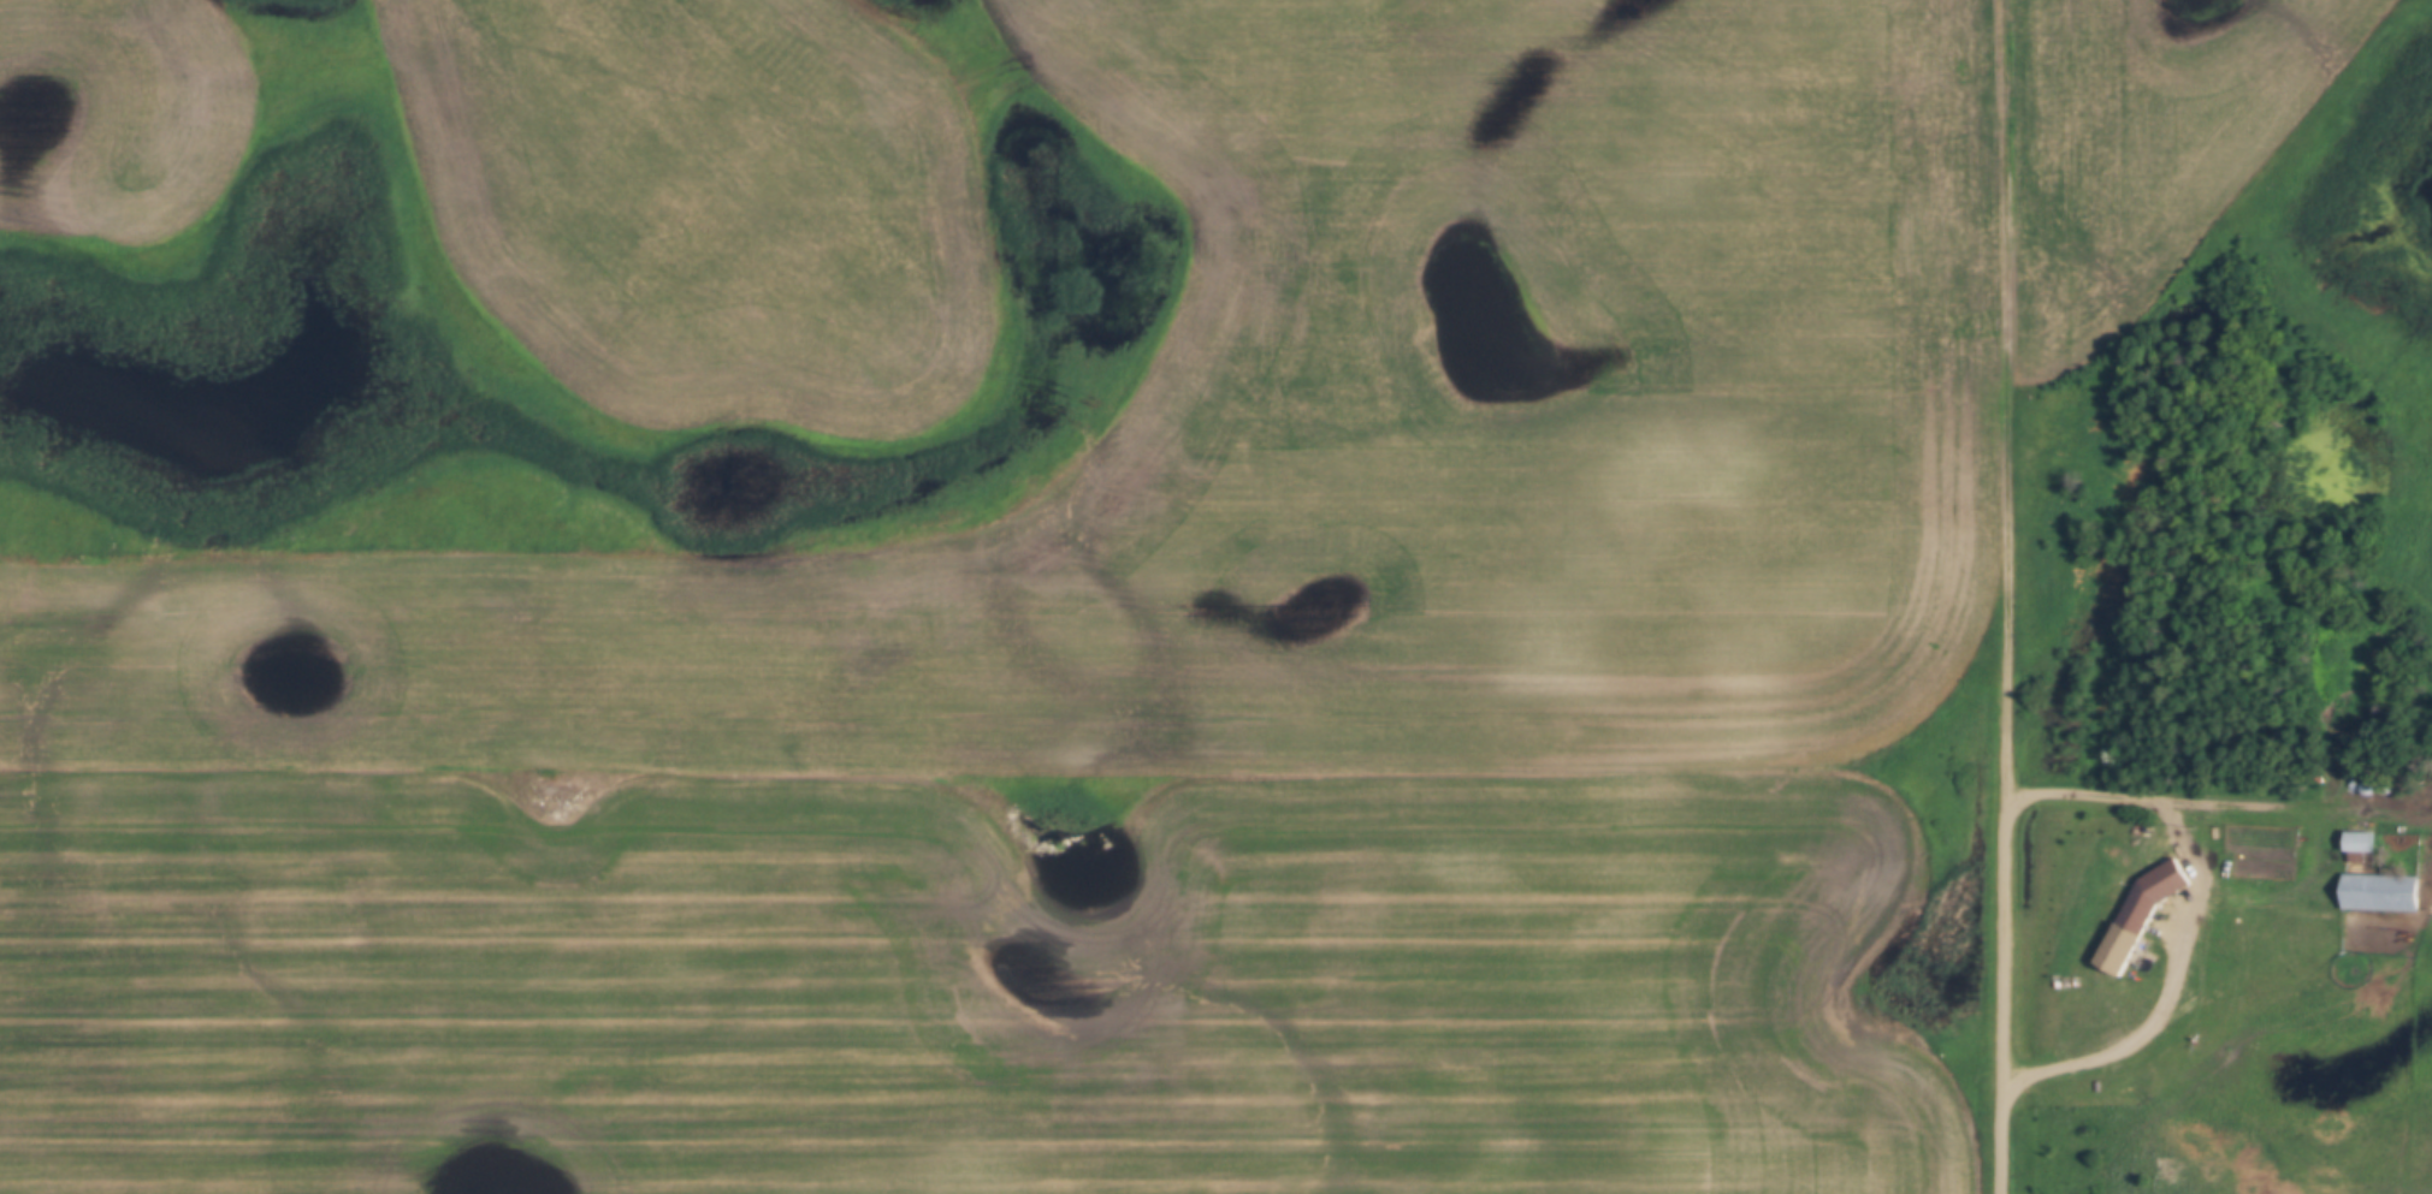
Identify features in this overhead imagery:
road: (2008, 403)
building: (2363, 843)
building: (2384, 895)
road: (2184, 917)
building: (2129, 937)
road: (2008, 999)

